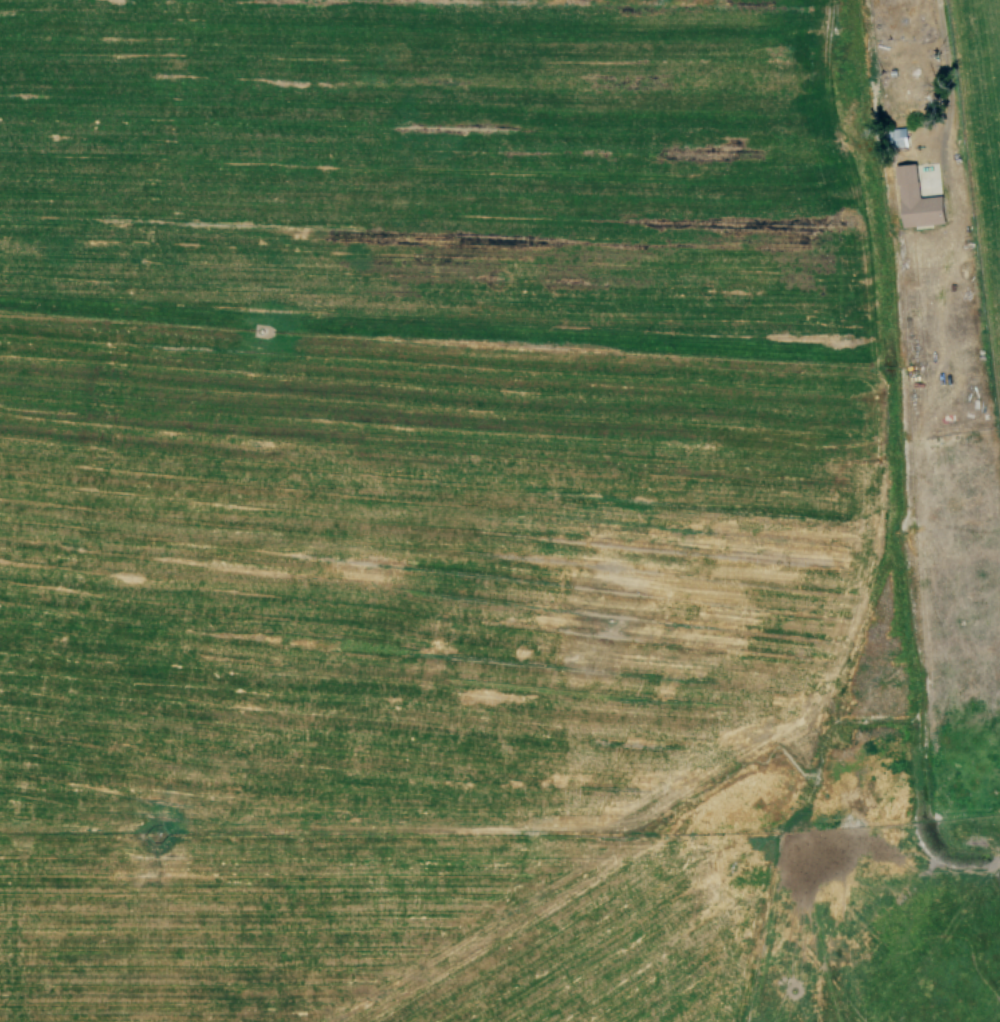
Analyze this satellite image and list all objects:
building: (923, 196)

